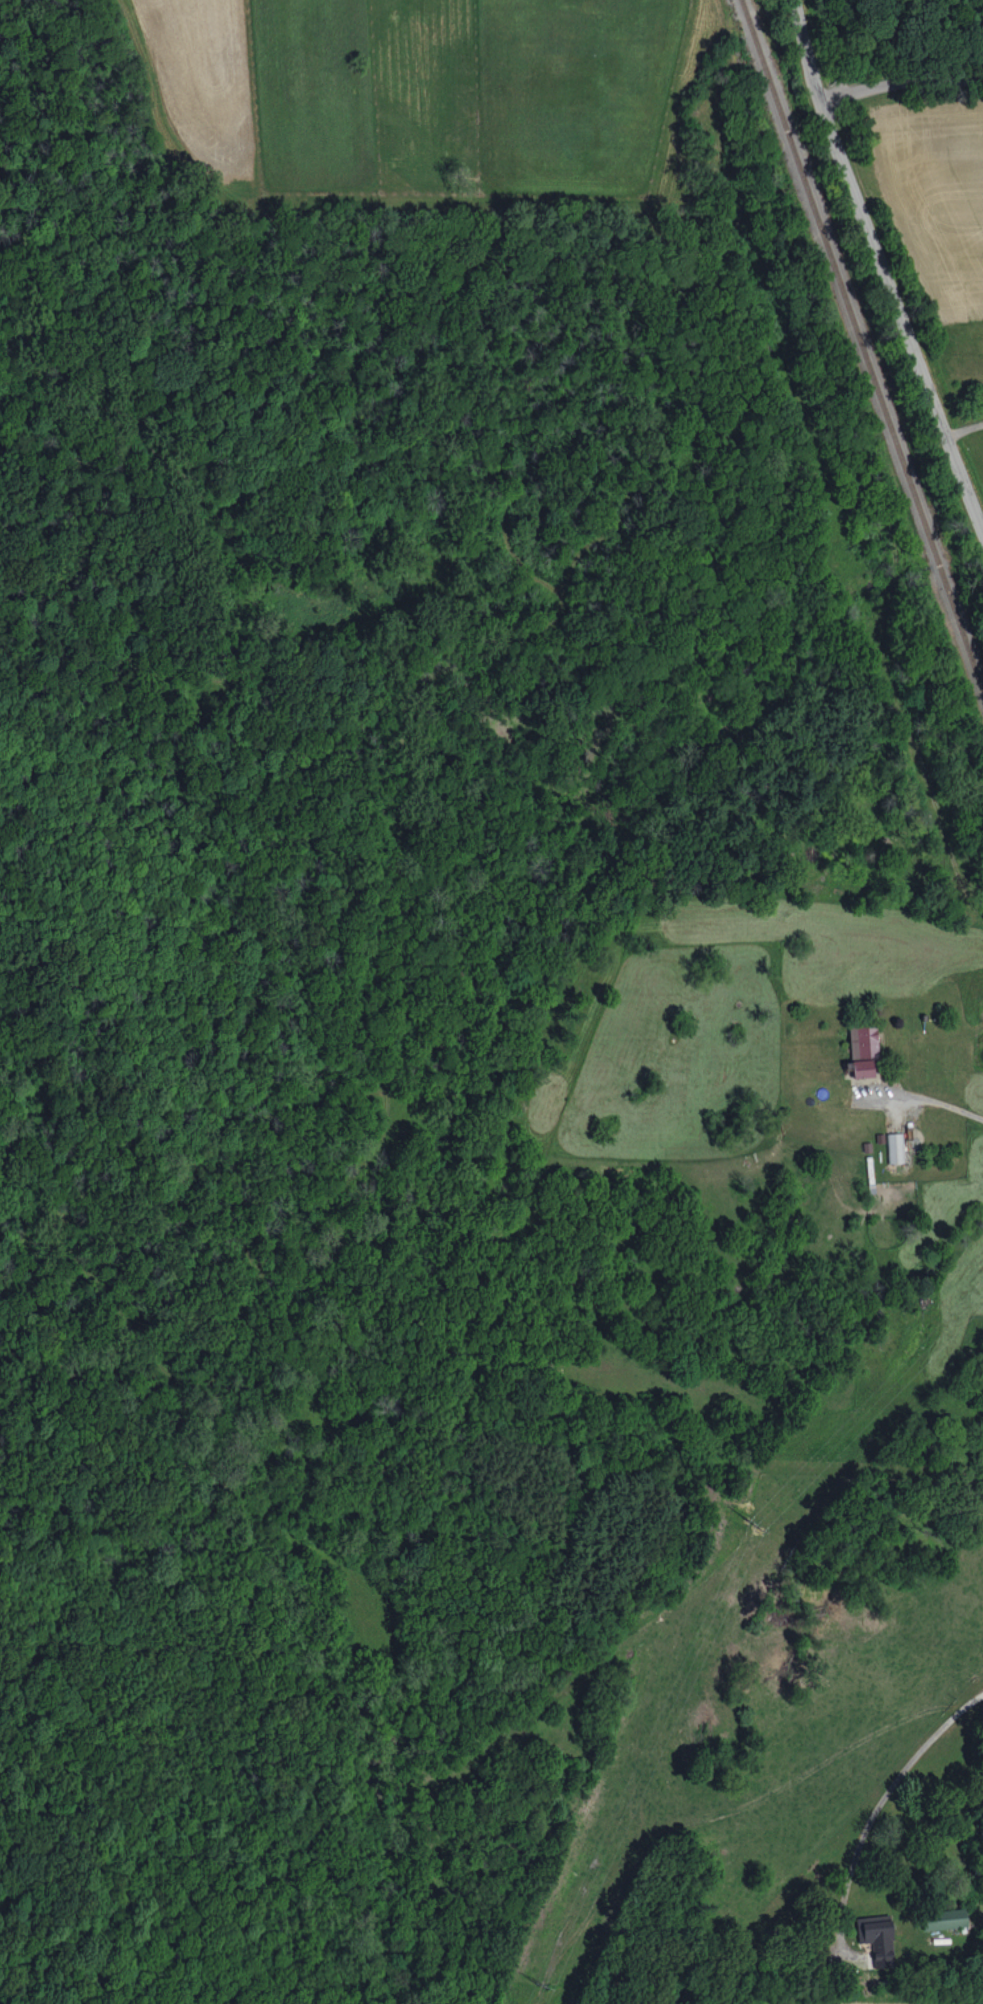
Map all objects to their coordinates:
road: (905, 78)
road: (884, 269)
railway: (862, 342)
building: (863, 1050)
road: (950, 1115)
building: (895, 1147)
road: (876, 1807)
building: (945, 1919)
building: (877, 1938)

